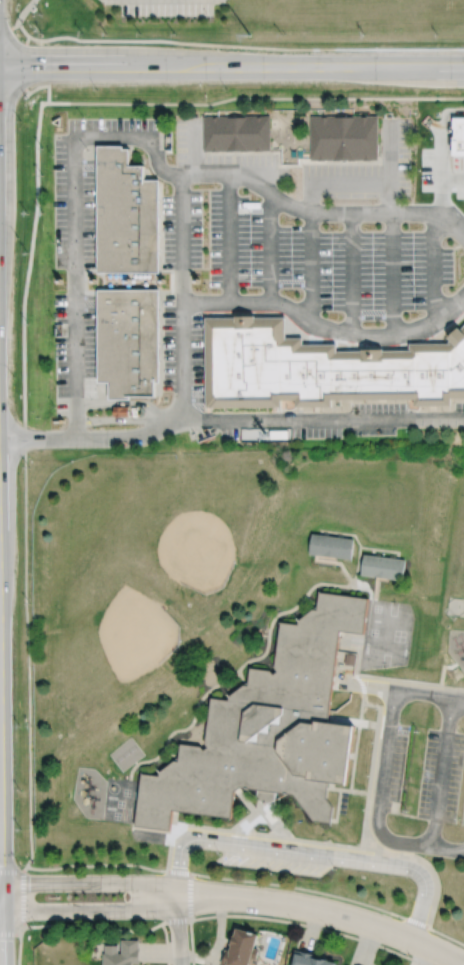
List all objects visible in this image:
road: (24, 10)
park: (245, 24)
road: (9, 27)
road: (22, 29)
power tower: (249, 34)
road: (245, 45)
road: (232, 67)
road: (25, 82)
road: (255, 97)
building: (236, 132)
road: (441, 134)
building: (345, 136)
building: (458, 136)
road: (195, 147)
parking lot: (217, 155)
road: (388, 166)
parking lot: (366, 169)
parking lot: (440, 170)
road: (263, 174)
road: (452, 177)
road: (333, 180)
road: (441, 195)
road: (321, 213)
building: (127, 214)
road: (73, 223)
road: (183, 238)
road: (230, 238)
parking lot: (81, 245)
road: (270, 247)
road: (28, 266)
road: (433, 266)
road: (311, 268)
road: (352, 273)
road: (392, 273)
parking lot: (291, 278)
road: (185, 302)
building: (129, 341)
building: (321, 367)
road: (128, 402)
building: (121, 410)
road: (199, 418)
road: (127, 419)
road: (342, 419)
parking lot: (330, 420)
building: (255, 434)
park: (191, 518)
road: (326, 532)
road: (340, 534)
road: (346, 534)
road: (357, 538)
building: (331, 544)
road: (381, 548)
road: (373, 550)
road: (378, 553)
road: (327, 555)
road: (391, 555)
road: (316, 557)
building: (383, 565)
road: (346, 571)
road: (382, 576)
road: (376, 586)
road: (311, 600)
park: (104, 633)
park: (386, 633)
road: (359, 649)
road: (28, 655)
building: (351, 657)
road: (245, 661)
road: (443, 668)
road: (242, 676)
road: (403, 681)
road: (366, 683)
road: (452, 687)
road: (363, 689)
road: (429, 692)
road: (372, 704)
road: (347, 719)
road: (375, 723)
building: (268, 728)
road: (356, 746)
road: (171, 752)
road: (353, 754)
road: (373, 765)
road: (441, 771)
parking lot: (424, 773)
road: (382, 785)
road: (347, 789)
road: (248, 803)
road: (338, 805)
road: (264, 808)
road: (251, 822)
road: (272, 824)
road: (204, 825)
road: (150, 828)
road: (260, 833)
road: (364, 836)
road: (170, 839)
road: (373, 840)
road: (322, 841)
road: (445, 848)
road: (374, 849)
road: (309, 852)
parking lot: (277, 859)
road: (11, 870)
road: (434, 872)
road: (227, 876)
road: (90, 881)
road: (189, 895)
road: (23, 898)
road: (89, 909)
road: (325, 910)
road: (176, 919)
road: (94, 925)
road: (311, 925)
road: (178, 930)
road: (10, 933)
road: (446, 934)
road: (191, 941)
road: (166, 942)
road: (19, 945)
road: (0, 948)
building: (241, 948)
building: (123, 953)
building: (308, 959)
road: (463, 964)

